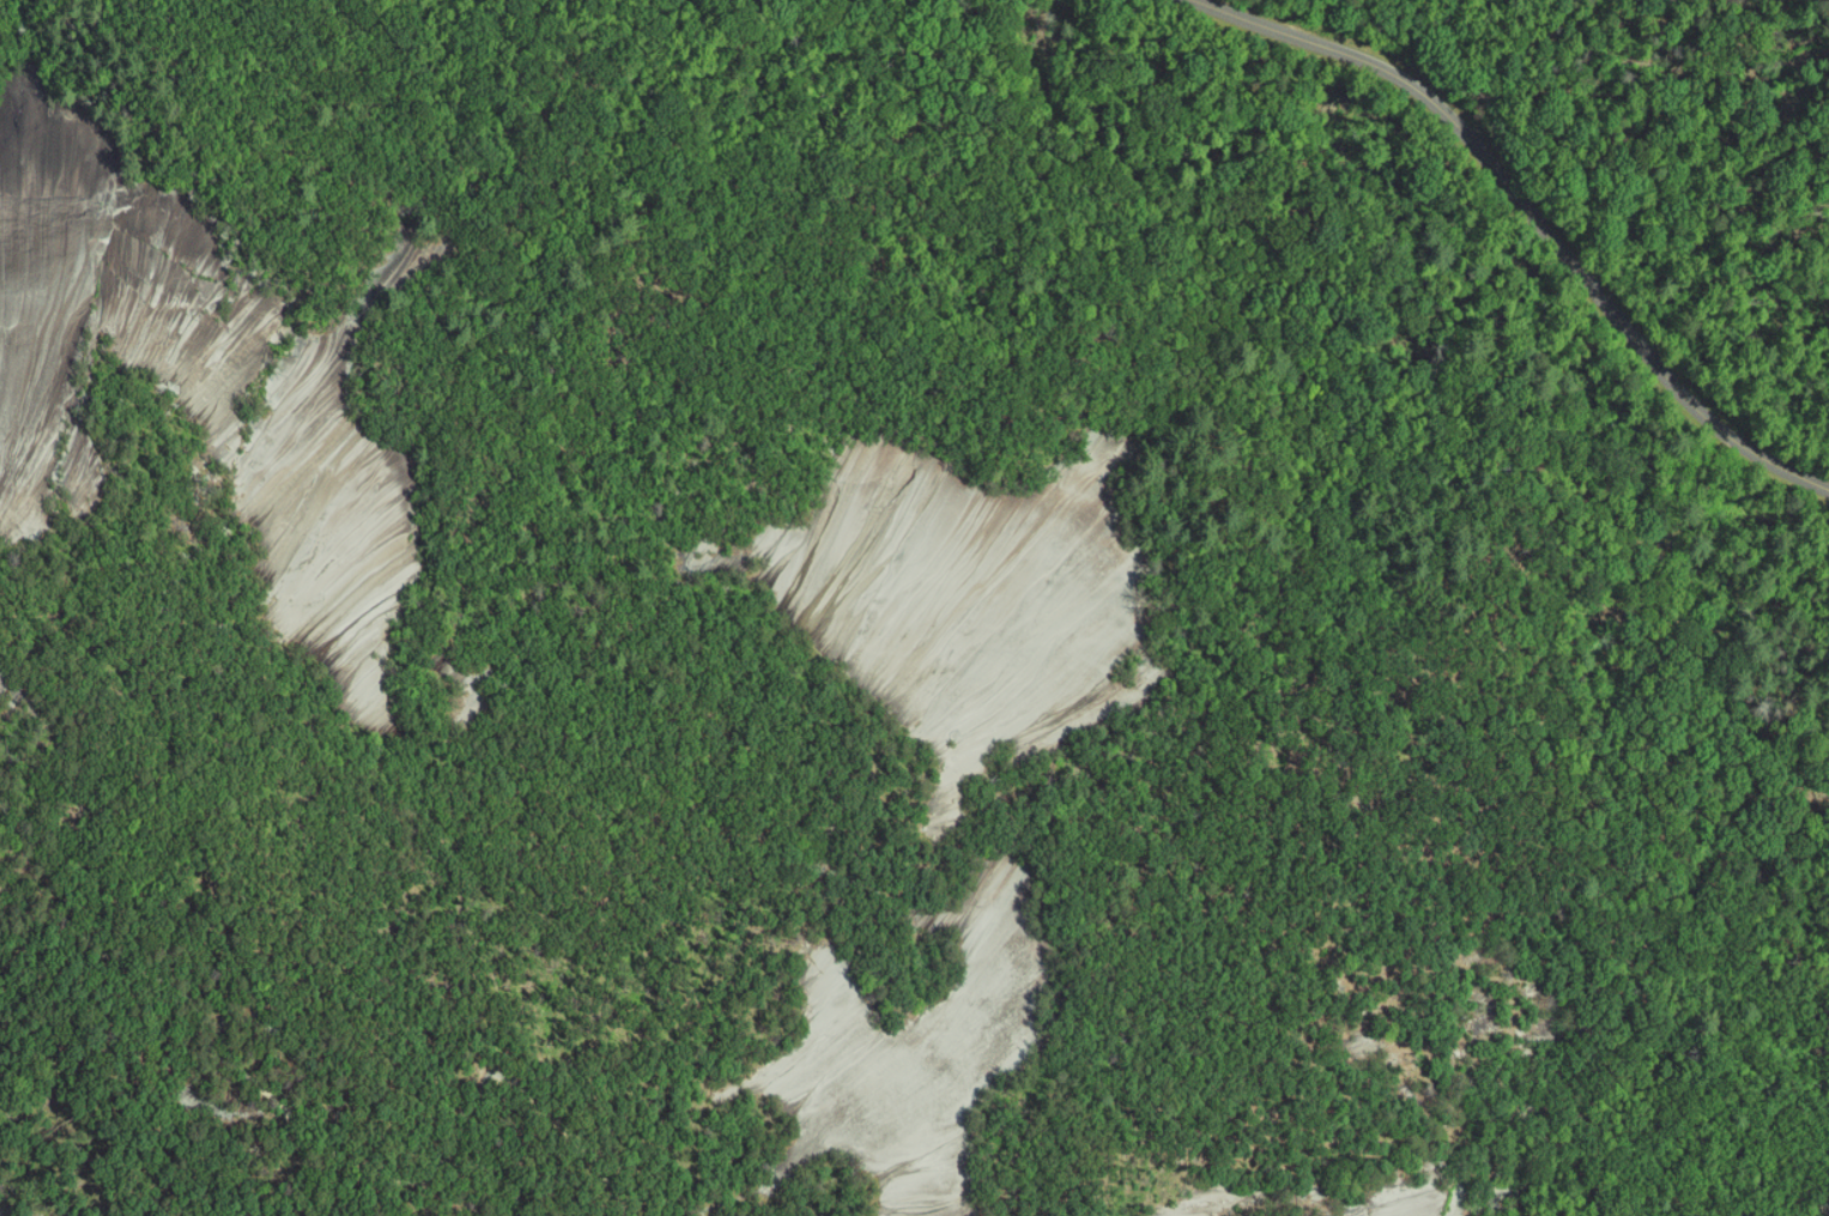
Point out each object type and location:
road: (1536, 214)
road: (323, 1148)

